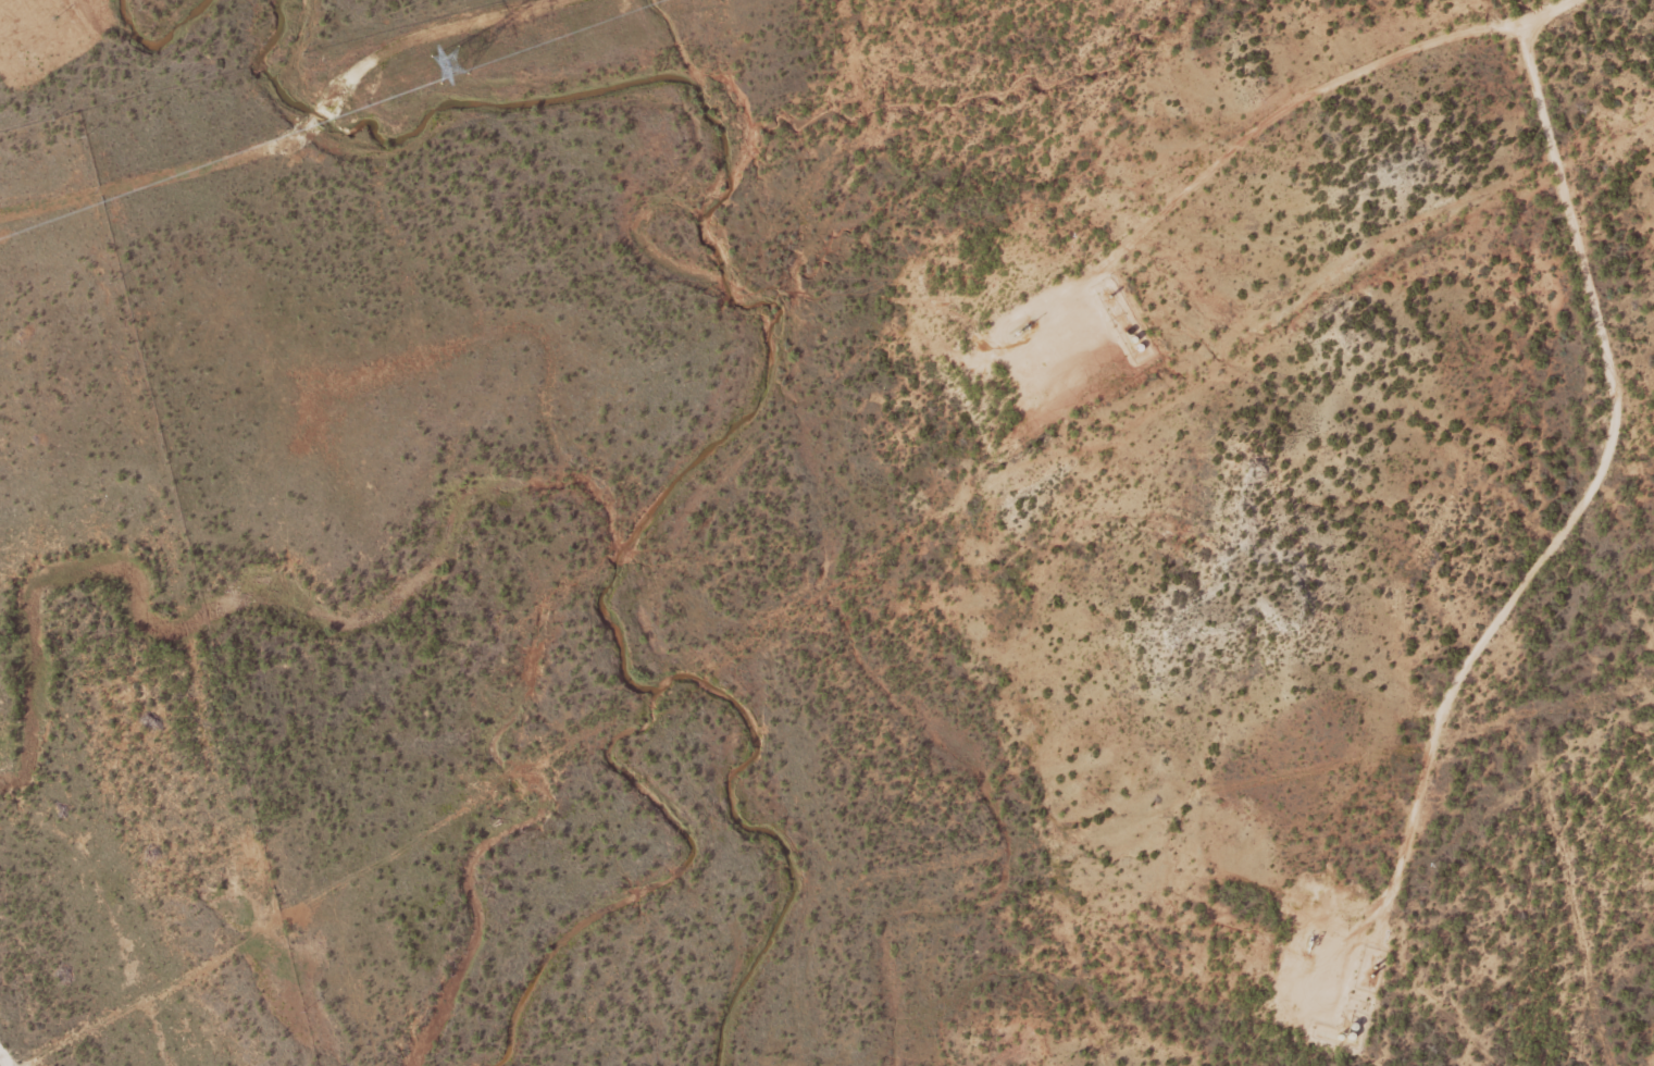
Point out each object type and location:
power tower: (450, 63)

